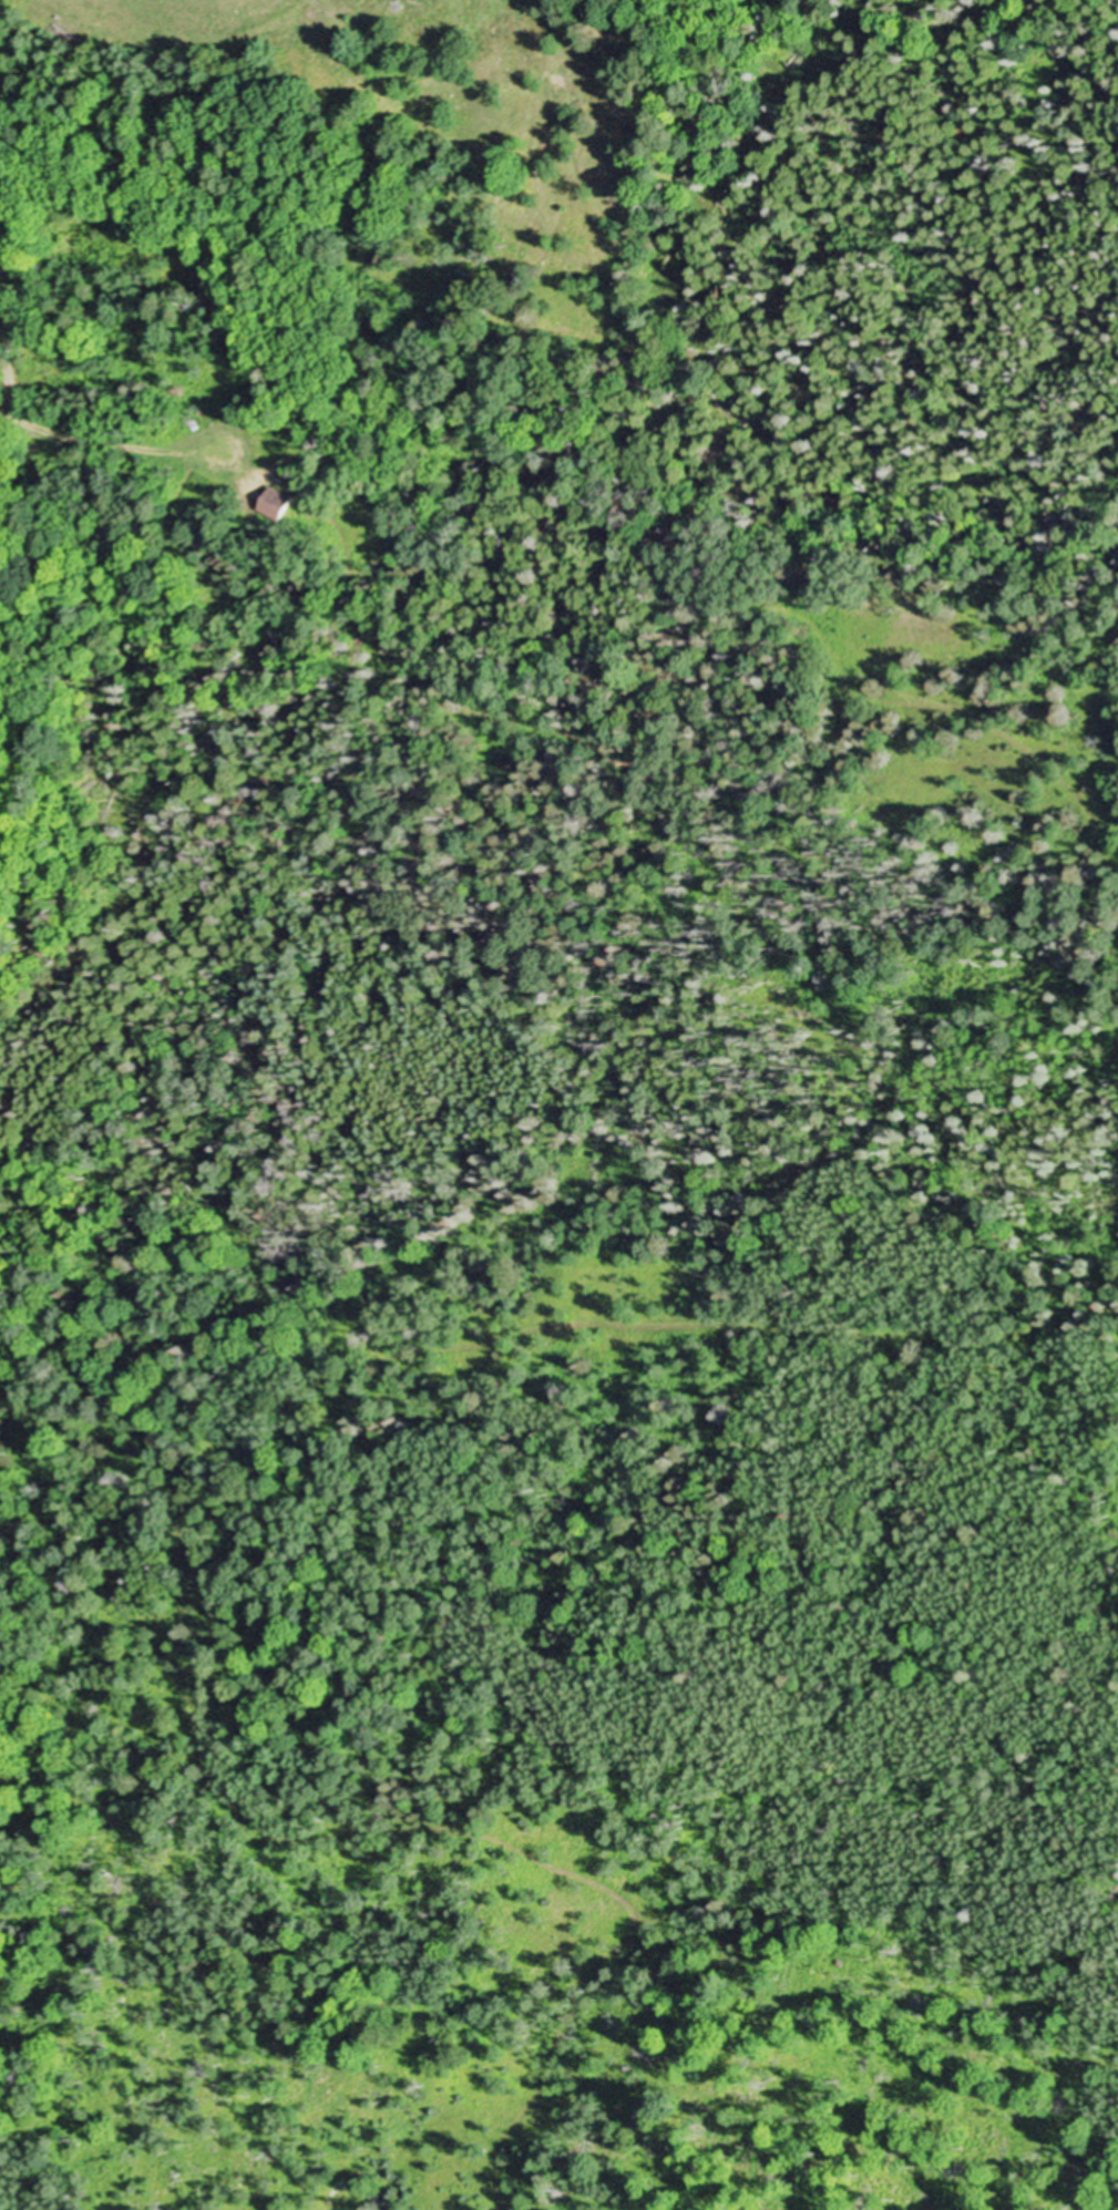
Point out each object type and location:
road: (103, 444)

